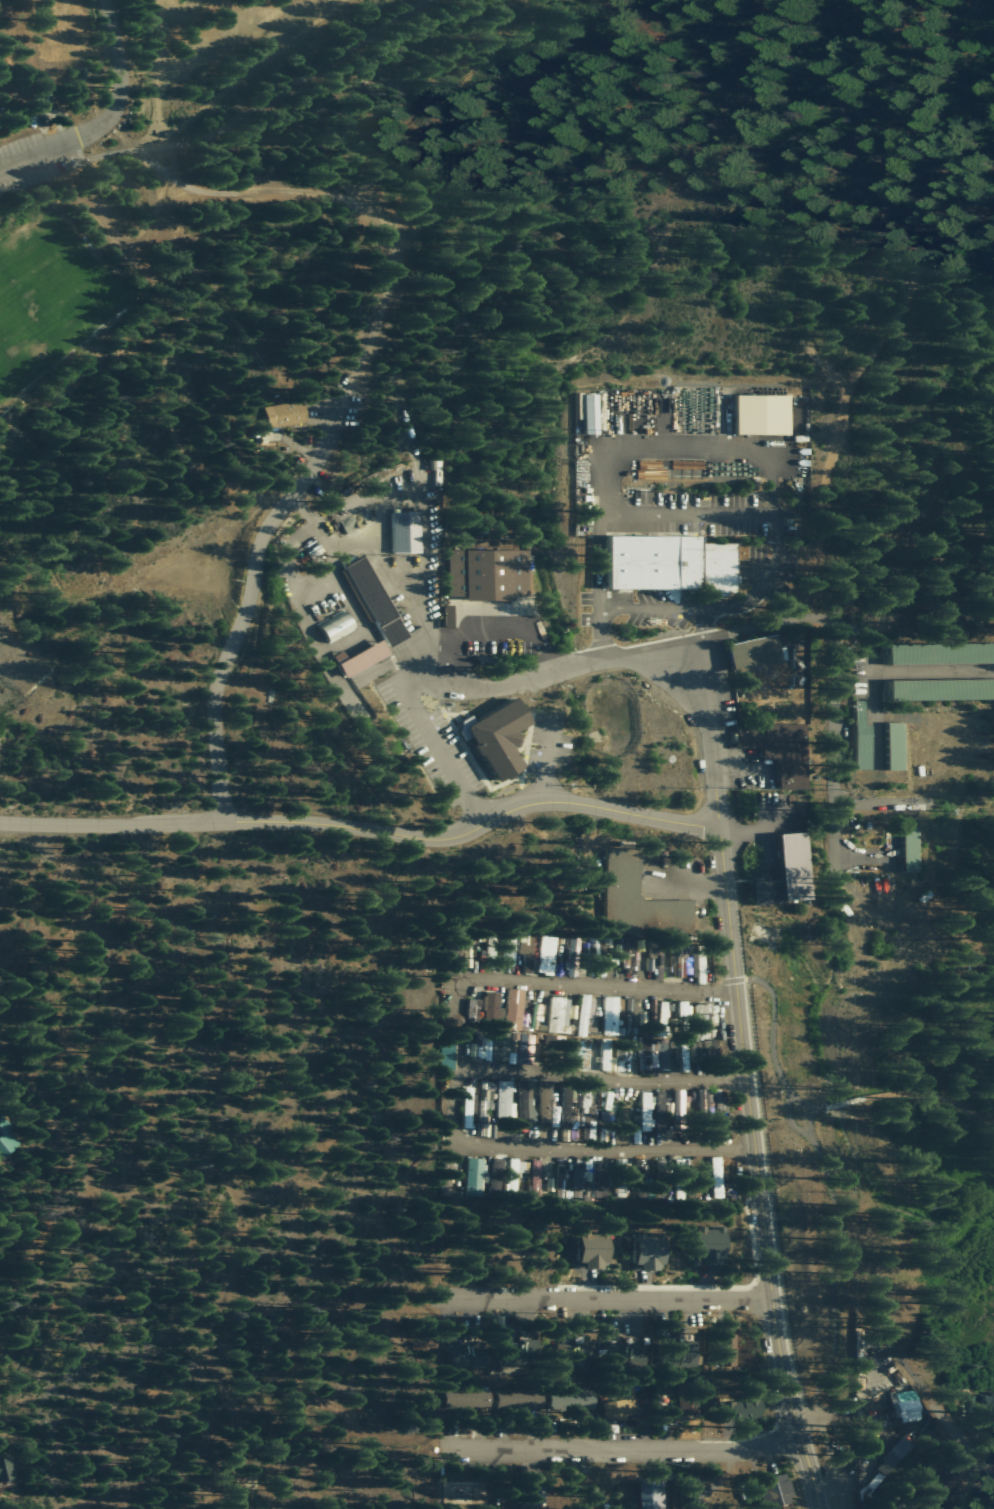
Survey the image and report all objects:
road: (119, 76)
road: (248, 114)
road: (37, 148)
parking lot: (31, 156)
park: (52, 297)
road: (890, 314)
park: (329, 344)
road: (339, 404)
building: (285, 413)
building: (590, 413)
building: (762, 414)
road: (612, 447)
building: (433, 464)
road: (683, 516)
building: (406, 532)
road: (776, 553)
building: (670, 563)
building: (488, 574)
building: (375, 601)
road: (638, 608)
building: (448, 616)
building: (337, 626)
road: (486, 630)
building: (755, 653)
building: (941, 653)
building: (363, 658)
building: (486, 665)
building: (799, 667)
road: (530, 674)
road: (824, 685)
building: (942, 689)
road: (700, 735)
building: (501, 738)
building: (862, 738)
building: (895, 746)
building: (780, 750)
road: (437, 758)
road: (547, 758)
building: (747, 782)
road: (873, 800)
road: (592, 806)
toll booth: (133, 821)
road: (239, 821)
road: (750, 827)
road: (770, 827)
building: (910, 849)
road: (858, 854)
road: (65, 855)
road: (187, 862)
building: (795, 867)
road: (692, 886)
building: (766, 888)
building: (638, 894)
road: (720, 907)
building: (507, 952)
building: (525, 954)
building: (580, 954)
building: (623, 954)
building: (546, 955)
building: (656, 961)
building: (678, 962)
building: (698, 968)
road: (548, 982)
building: (474, 1008)
building: (492, 1008)
building: (515, 1009)
building: (684, 1009)
building: (537, 1013)
building: (558, 1015)
building: (628, 1015)
building: (584, 1016)
building: (610, 1017)
building: (702, 1038)
building: (513, 1042)
building: (491, 1047)
building: (551, 1048)
building: (576, 1052)
building: (605, 1054)
building: (652, 1054)
building: (446, 1057)
building: (621, 1061)
road: (902, 1092)
building: (486, 1094)
building: (505, 1101)
building: (587, 1101)
building: (525, 1102)
road: (225, 1104)
building: (549, 1104)
building: (703, 1105)
building: (467, 1107)
building: (569, 1110)
building: (608, 1110)
road: (448, 1111)
building: (669, 1111)
building: (644, 1112)
road: (782, 1116)
building: (590, 1133)
building: (6, 1139)
building: (678, 1165)
building: (514, 1173)
building: (481, 1175)
building: (535, 1175)
building: (716, 1178)
building: (642, 1181)
building: (578, 1183)
road: (832, 1221)
building: (711, 1245)
road: (759, 1250)
building: (594, 1252)
building: (649, 1252)
road: (597, 1299)
road: (880, 1345)
building: (689, 1349)
building: (571, 1354)
building: (615, 1354)
building: (473, 1355)
building: (687, 1396)
building: (466, 1397)
building: (518, 1398)
building: (572, 1399)
building: (986, 1401)
building: (621, 1402)
building: (905, 1405)
building: (739, 1409)
building: (609, 1427)
road: (963, 1446)
road: (616, 1447)
building: (899, 1448)
building: (5, 1467)
building: (941, 1482)
building: (692, 1490)
building: (773, 1490)
building: (650, 1494)
building: (465, 1495)
building: (536, 1495)
building: (971, 1502)

